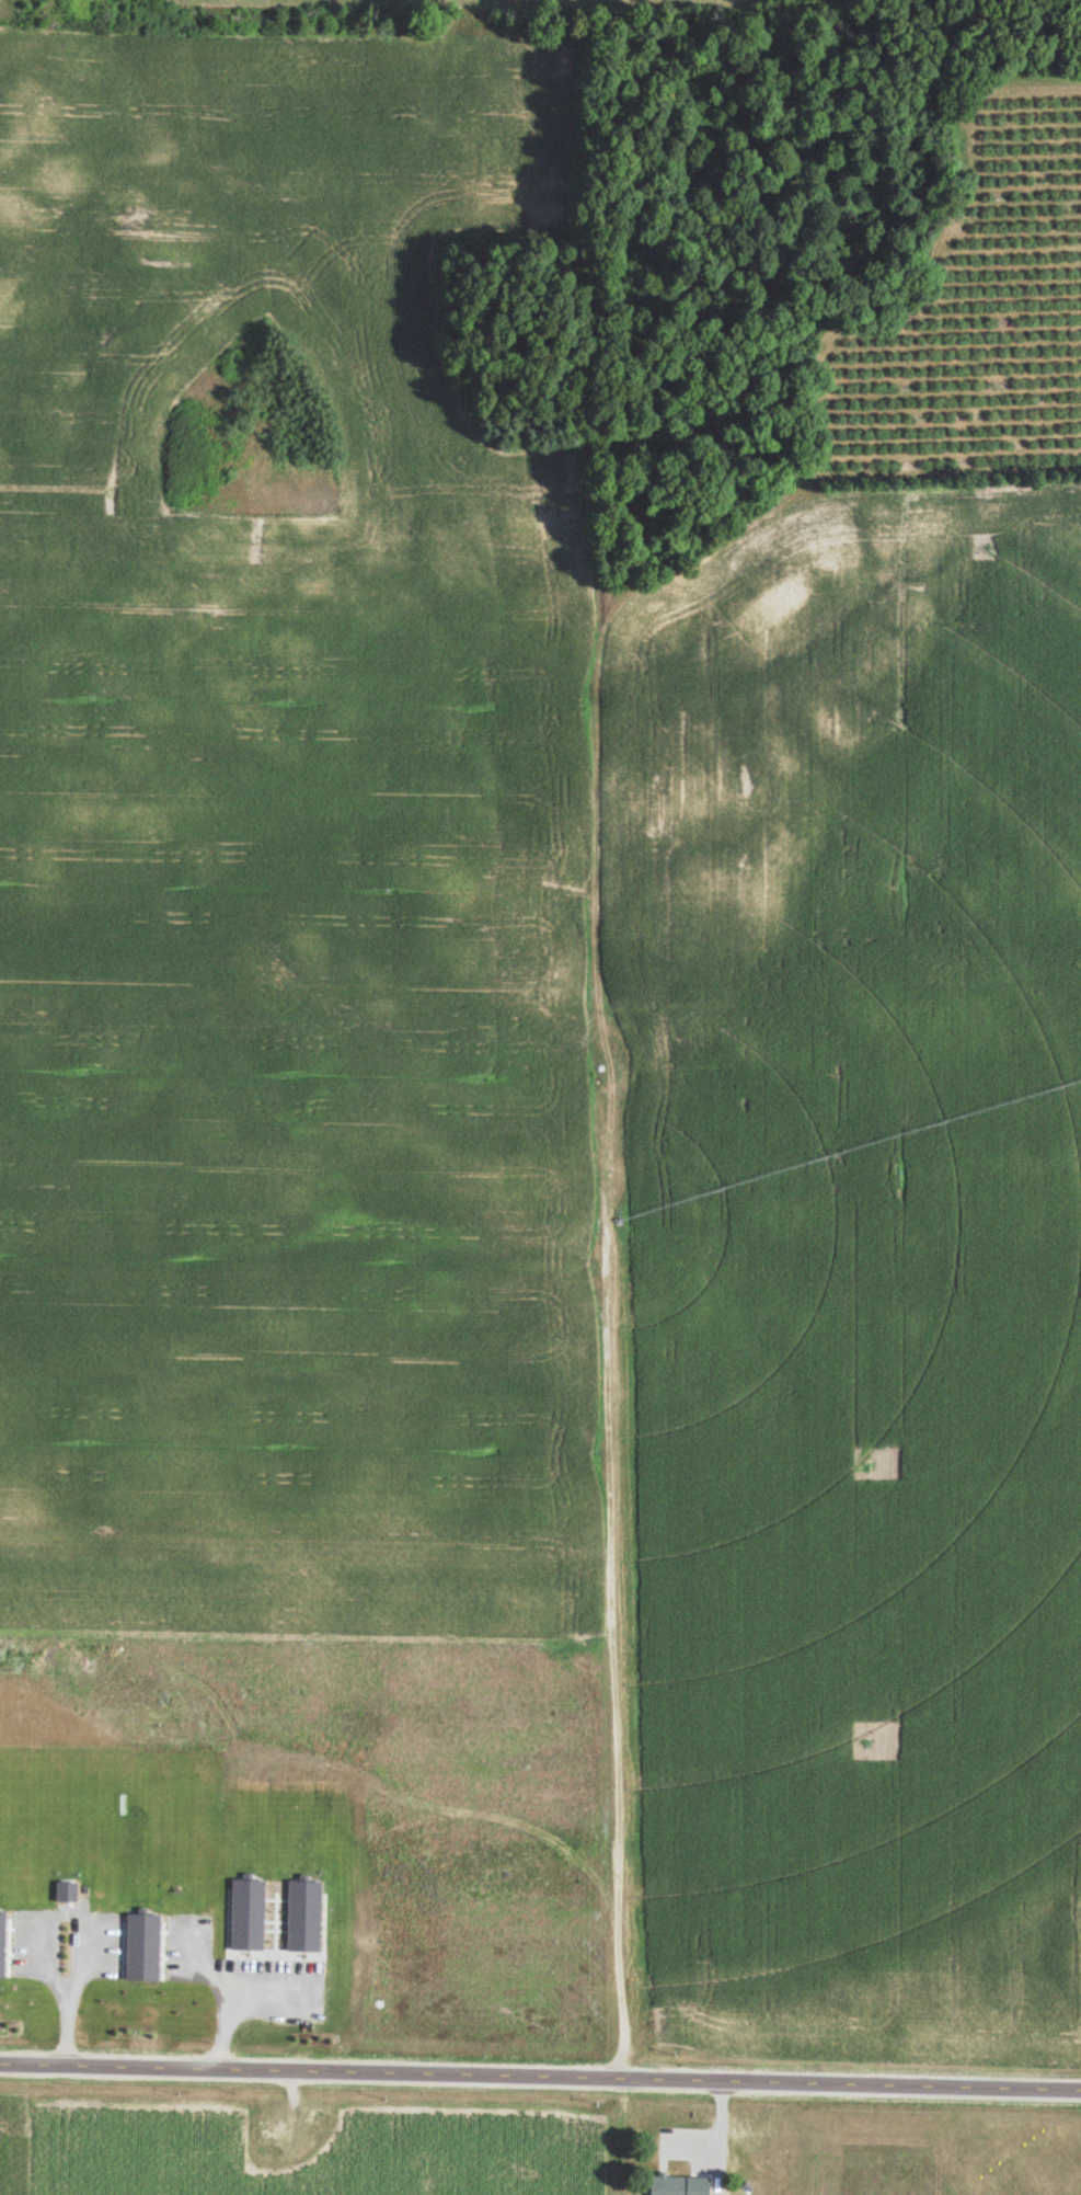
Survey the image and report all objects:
road: (540, 2077)
building: (265, 2131)
airport: (938, 2157)
airport runway: (1030, 2173)
building: (687, 2186)

